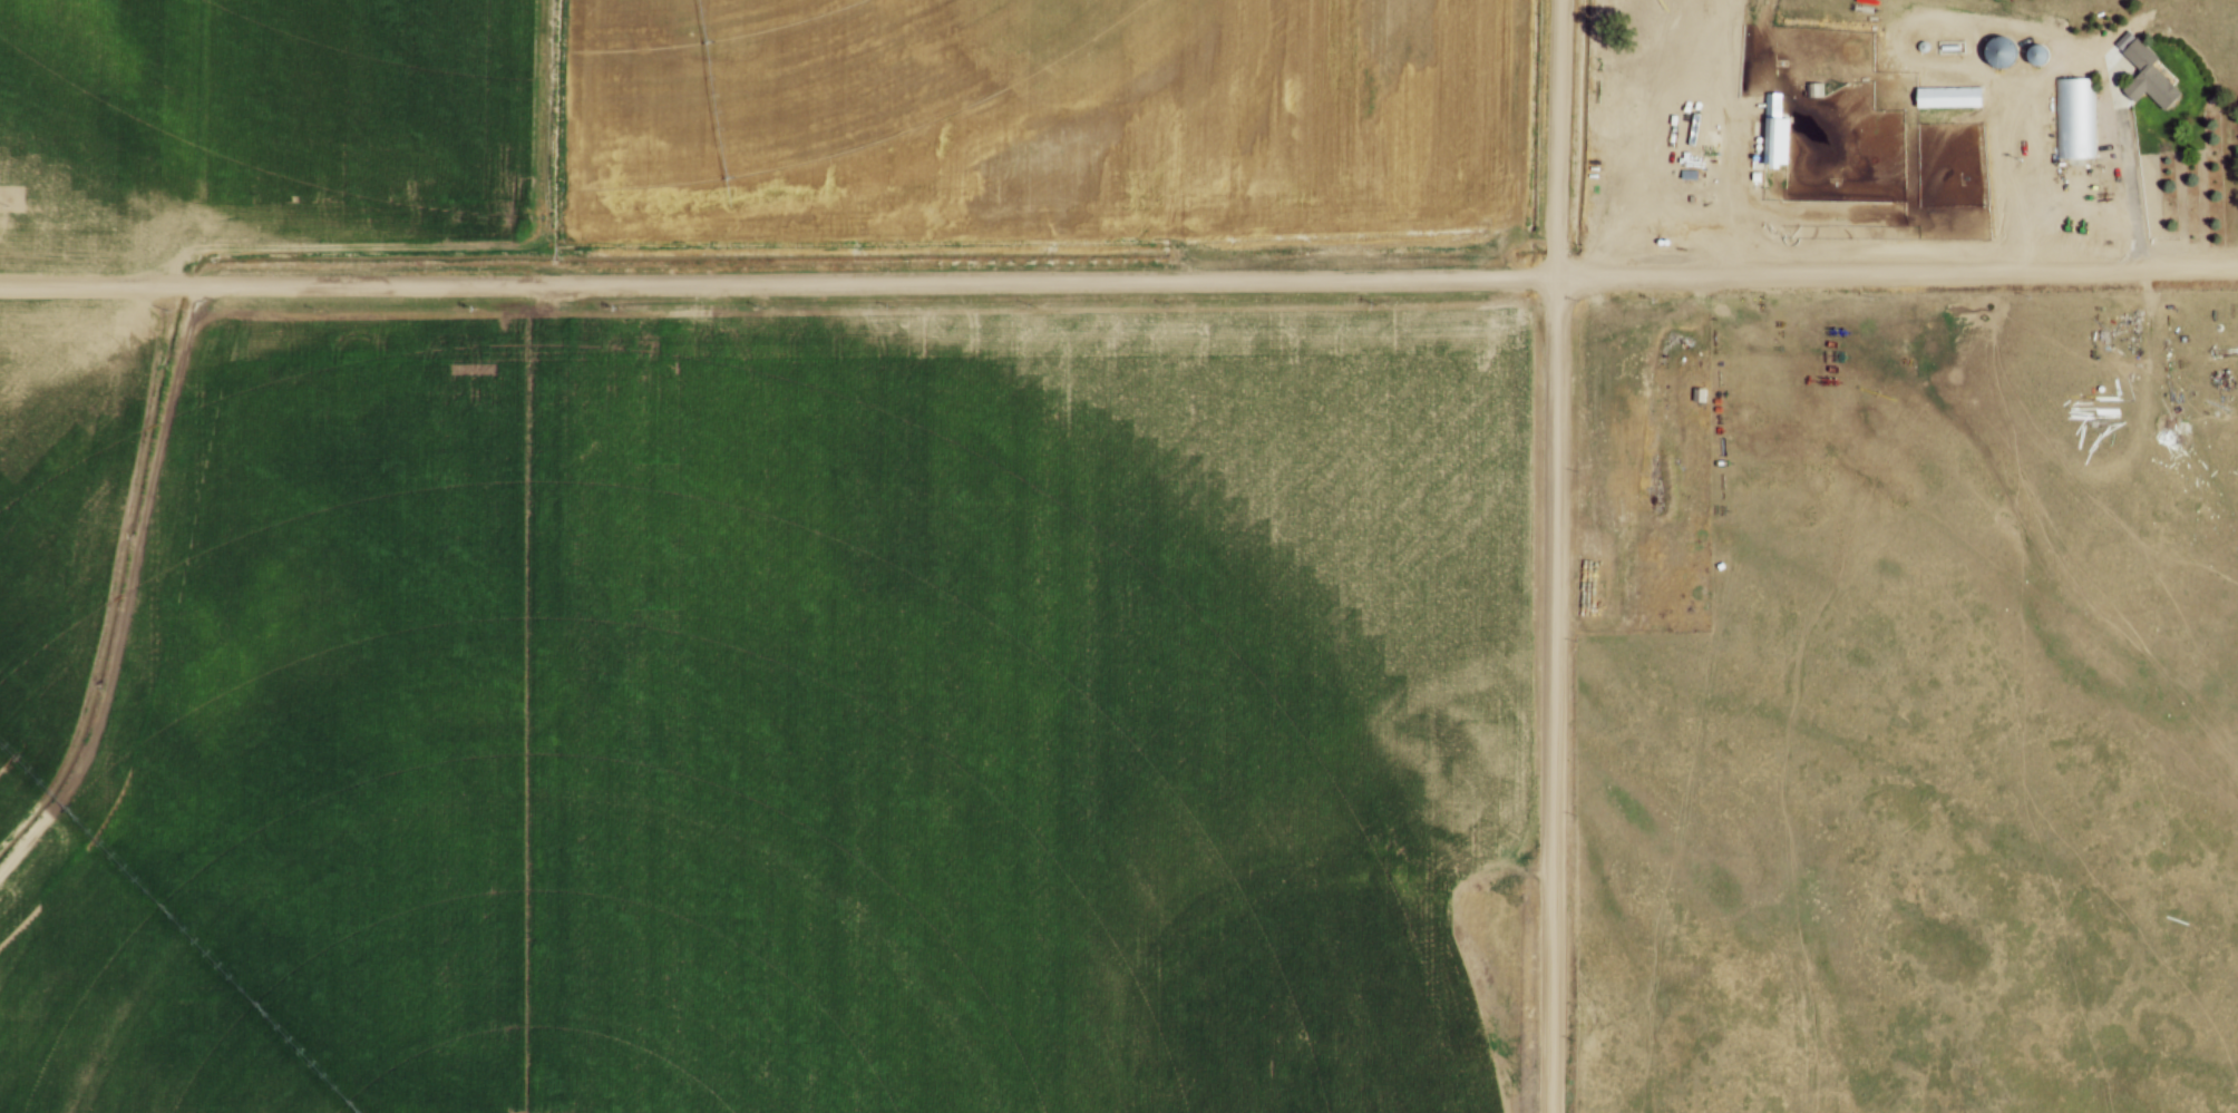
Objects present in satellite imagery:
building: (1994, 53)
silo: (1994, 53)
building: (2027, 56)
silo: (2027, 56)
building: (2147, 74)
building: (1939, 100)
crop: (1030, 116)
building: (2063, 121)
crop: (245, 123)
building: (1762, 136)
road: (1712, 138)
road: (2122, 179)
road: (1118, 282)
road: (1541, 556)
crop: (748, 706)

